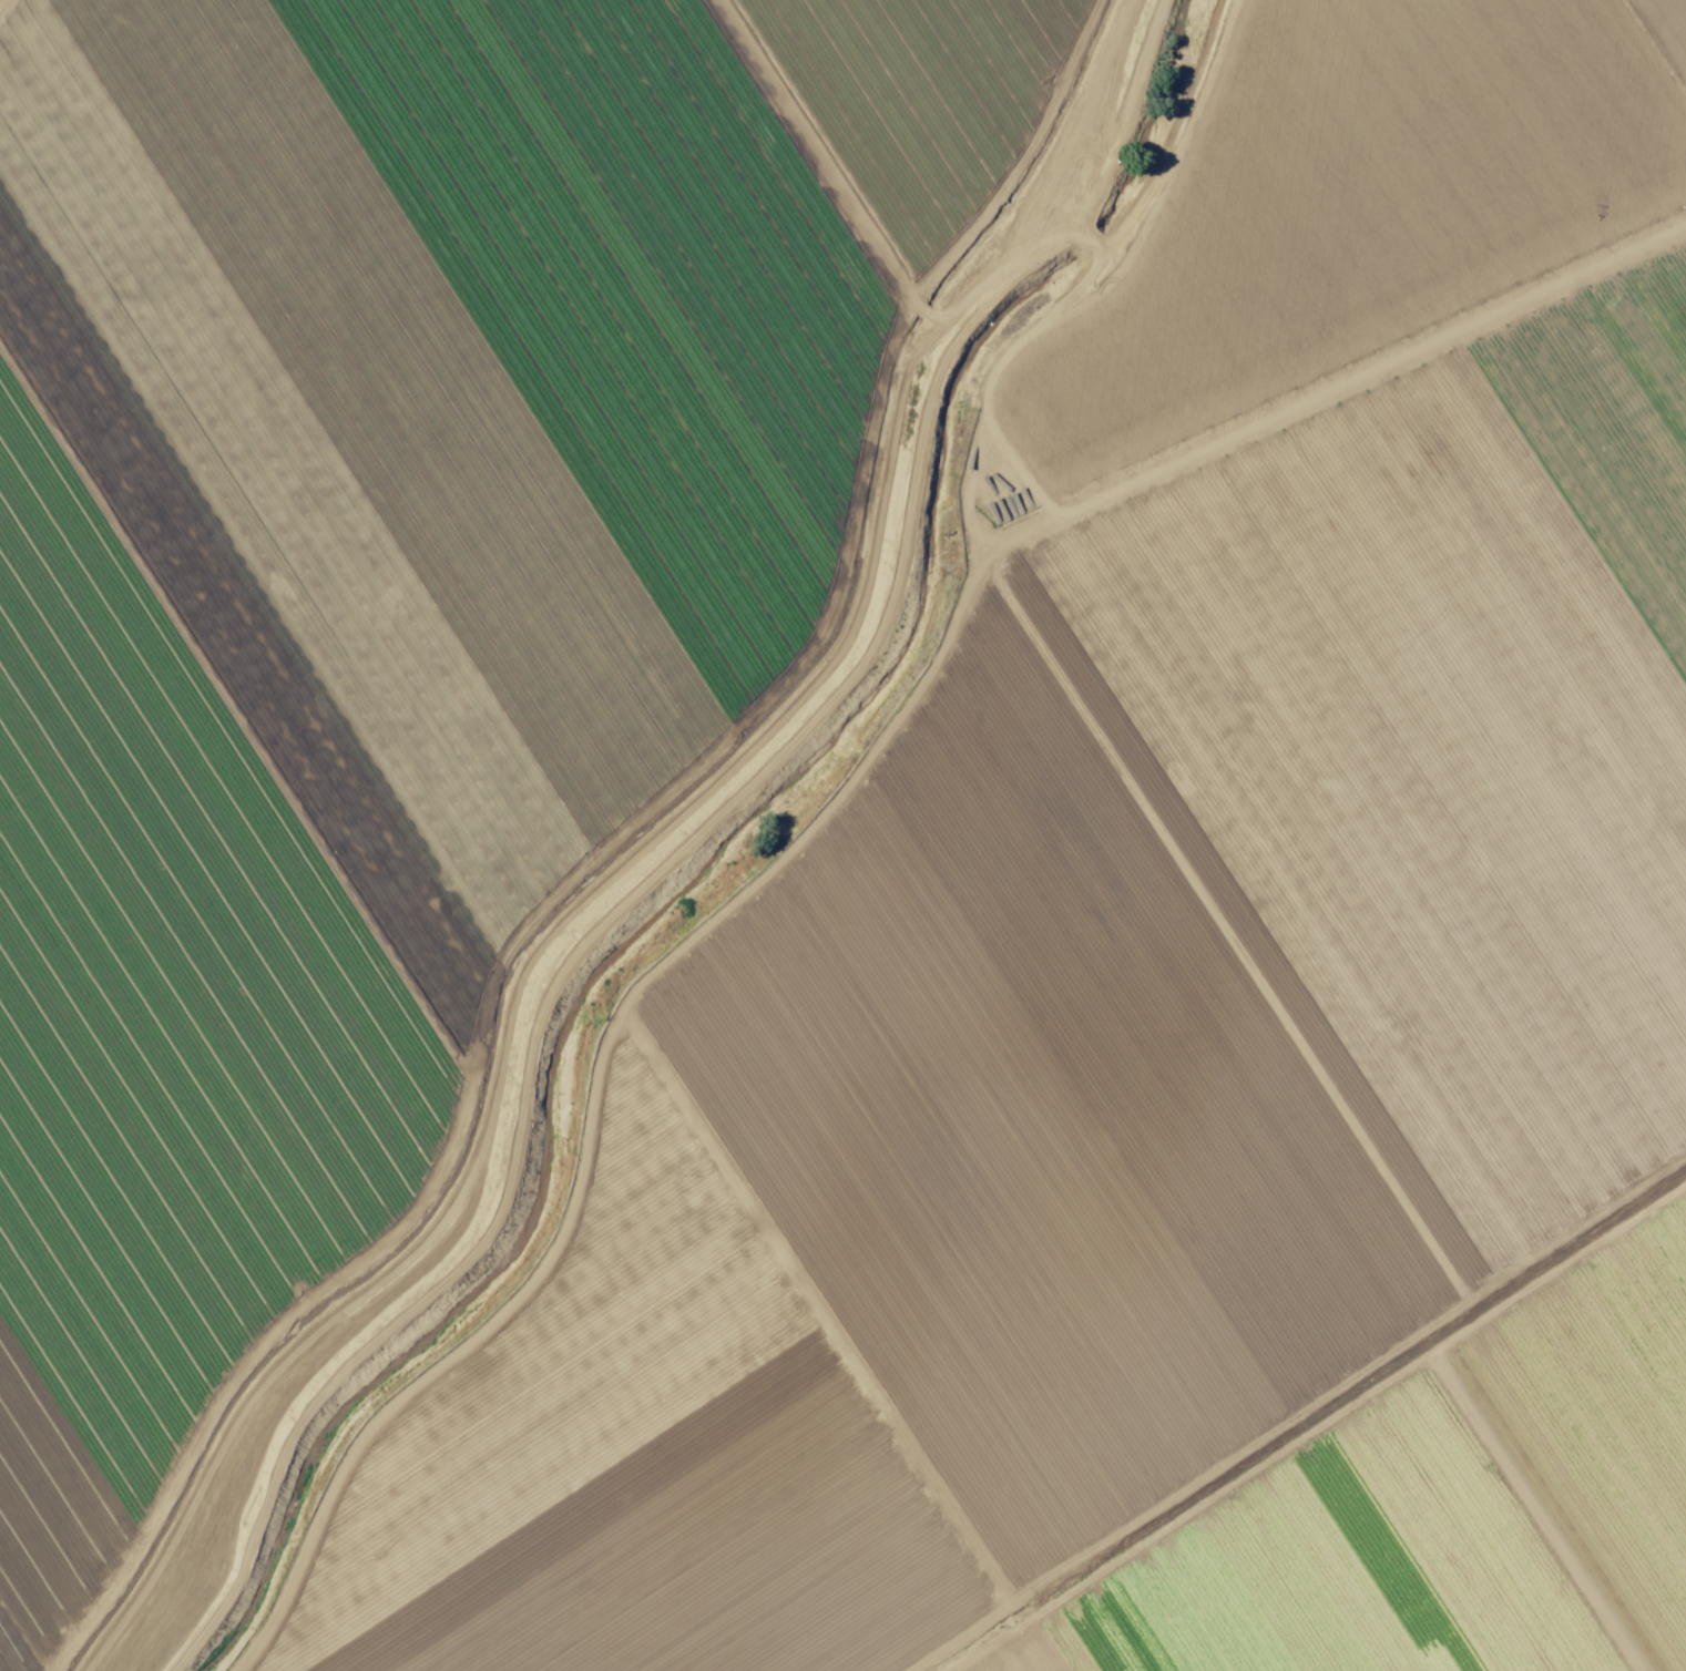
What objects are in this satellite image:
road: (3, 6)
road: (1189, 134)
road: (1328, 379)
crop: (847, 831)
road: (801, 848)

